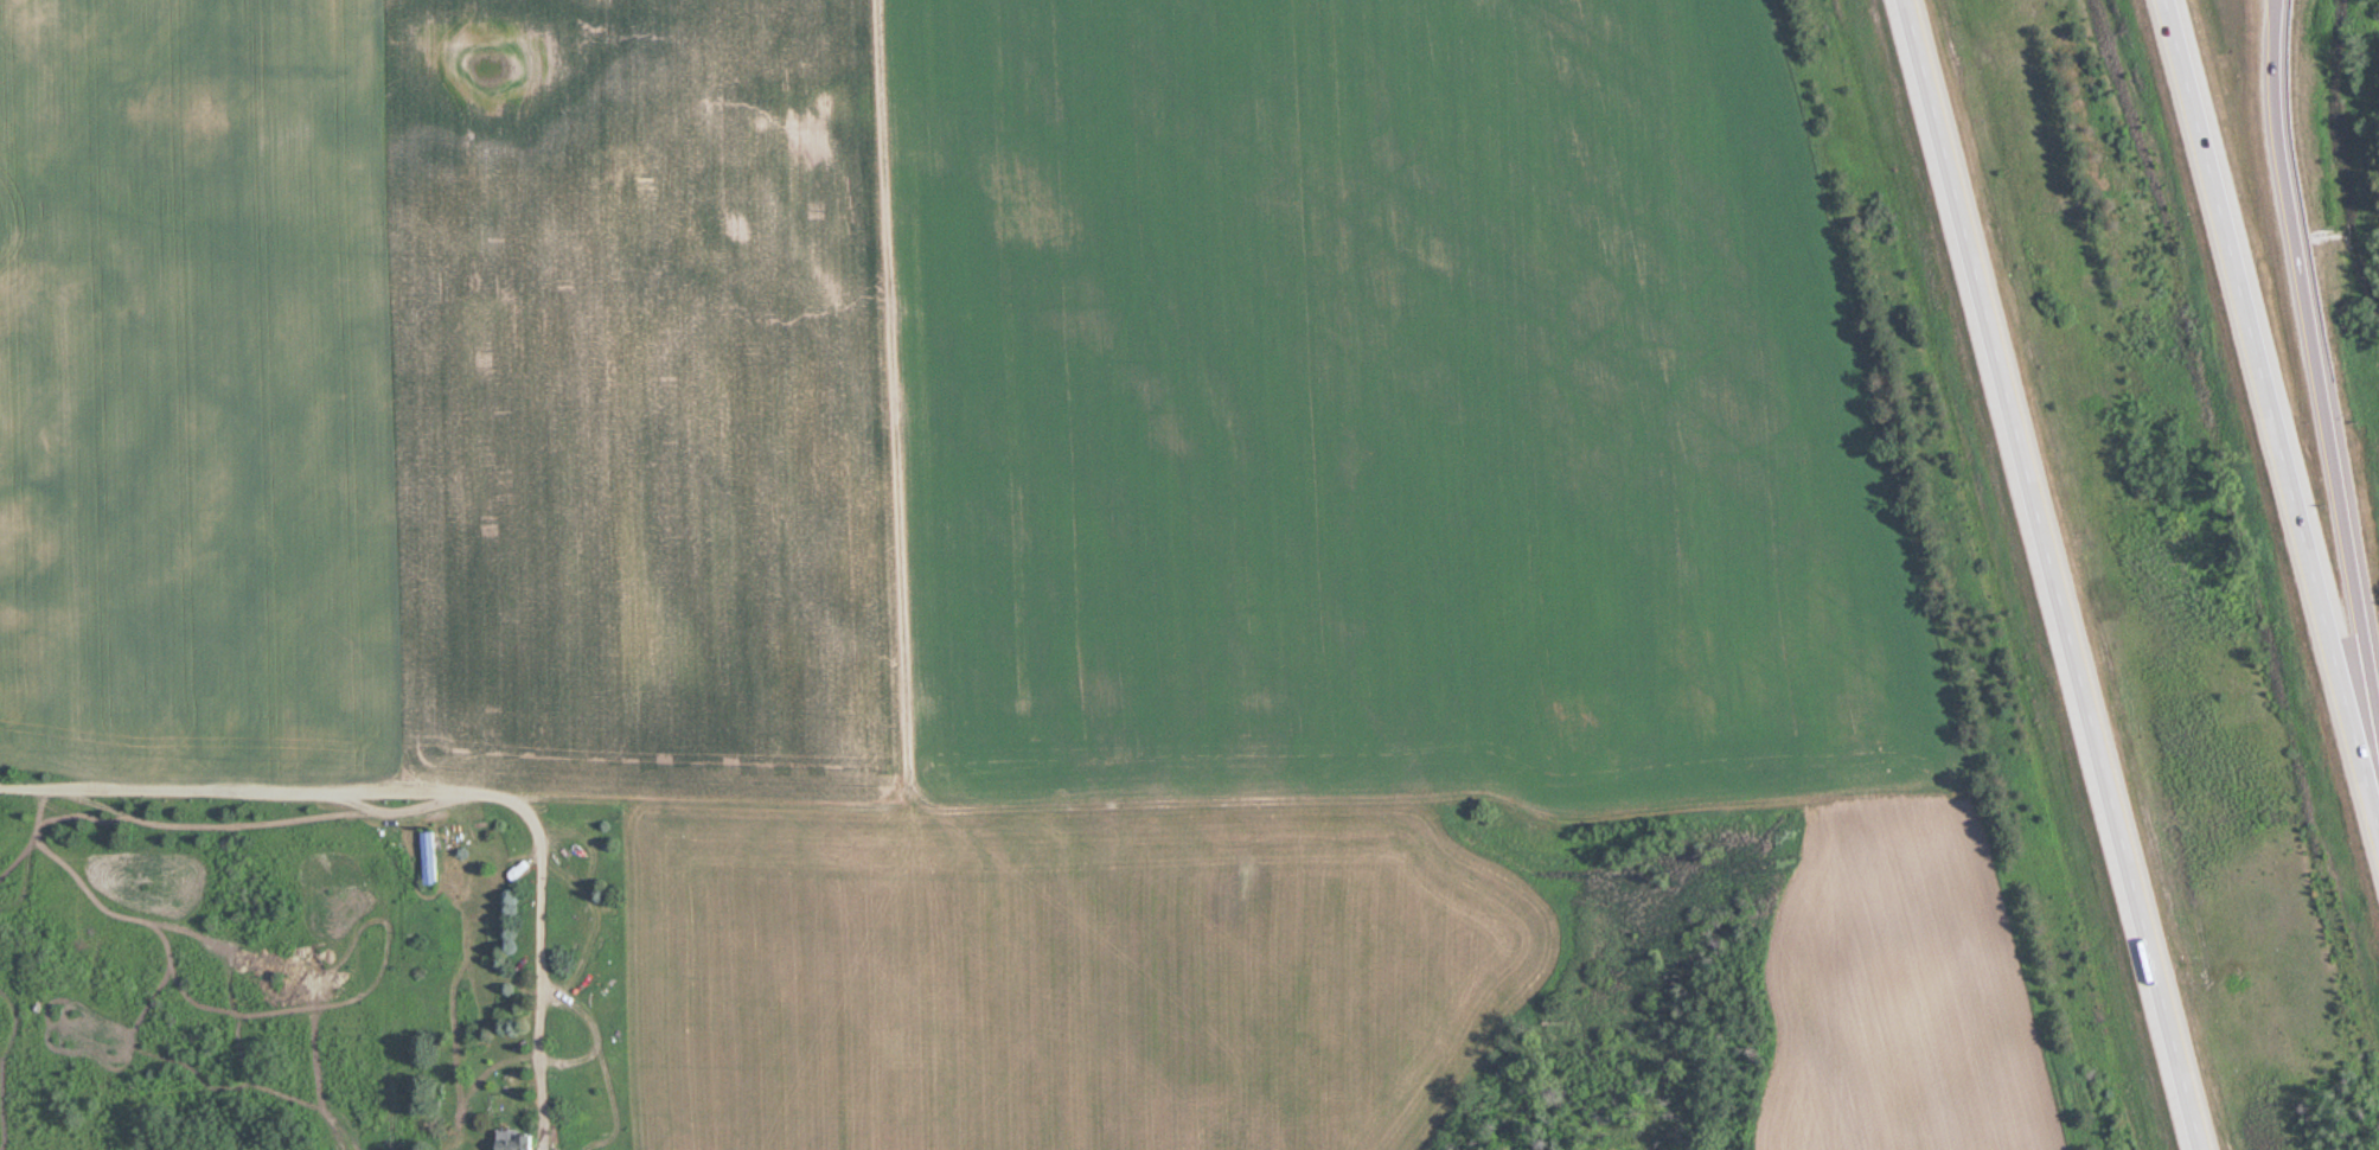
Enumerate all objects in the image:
road: (2270, 8)
road: (2272, 8)
road: (2319, 378)
road: (2275, 398)
road: (2059, 575)
road: (434, 804)
building: (434, 860)
building: (522, 1139)

